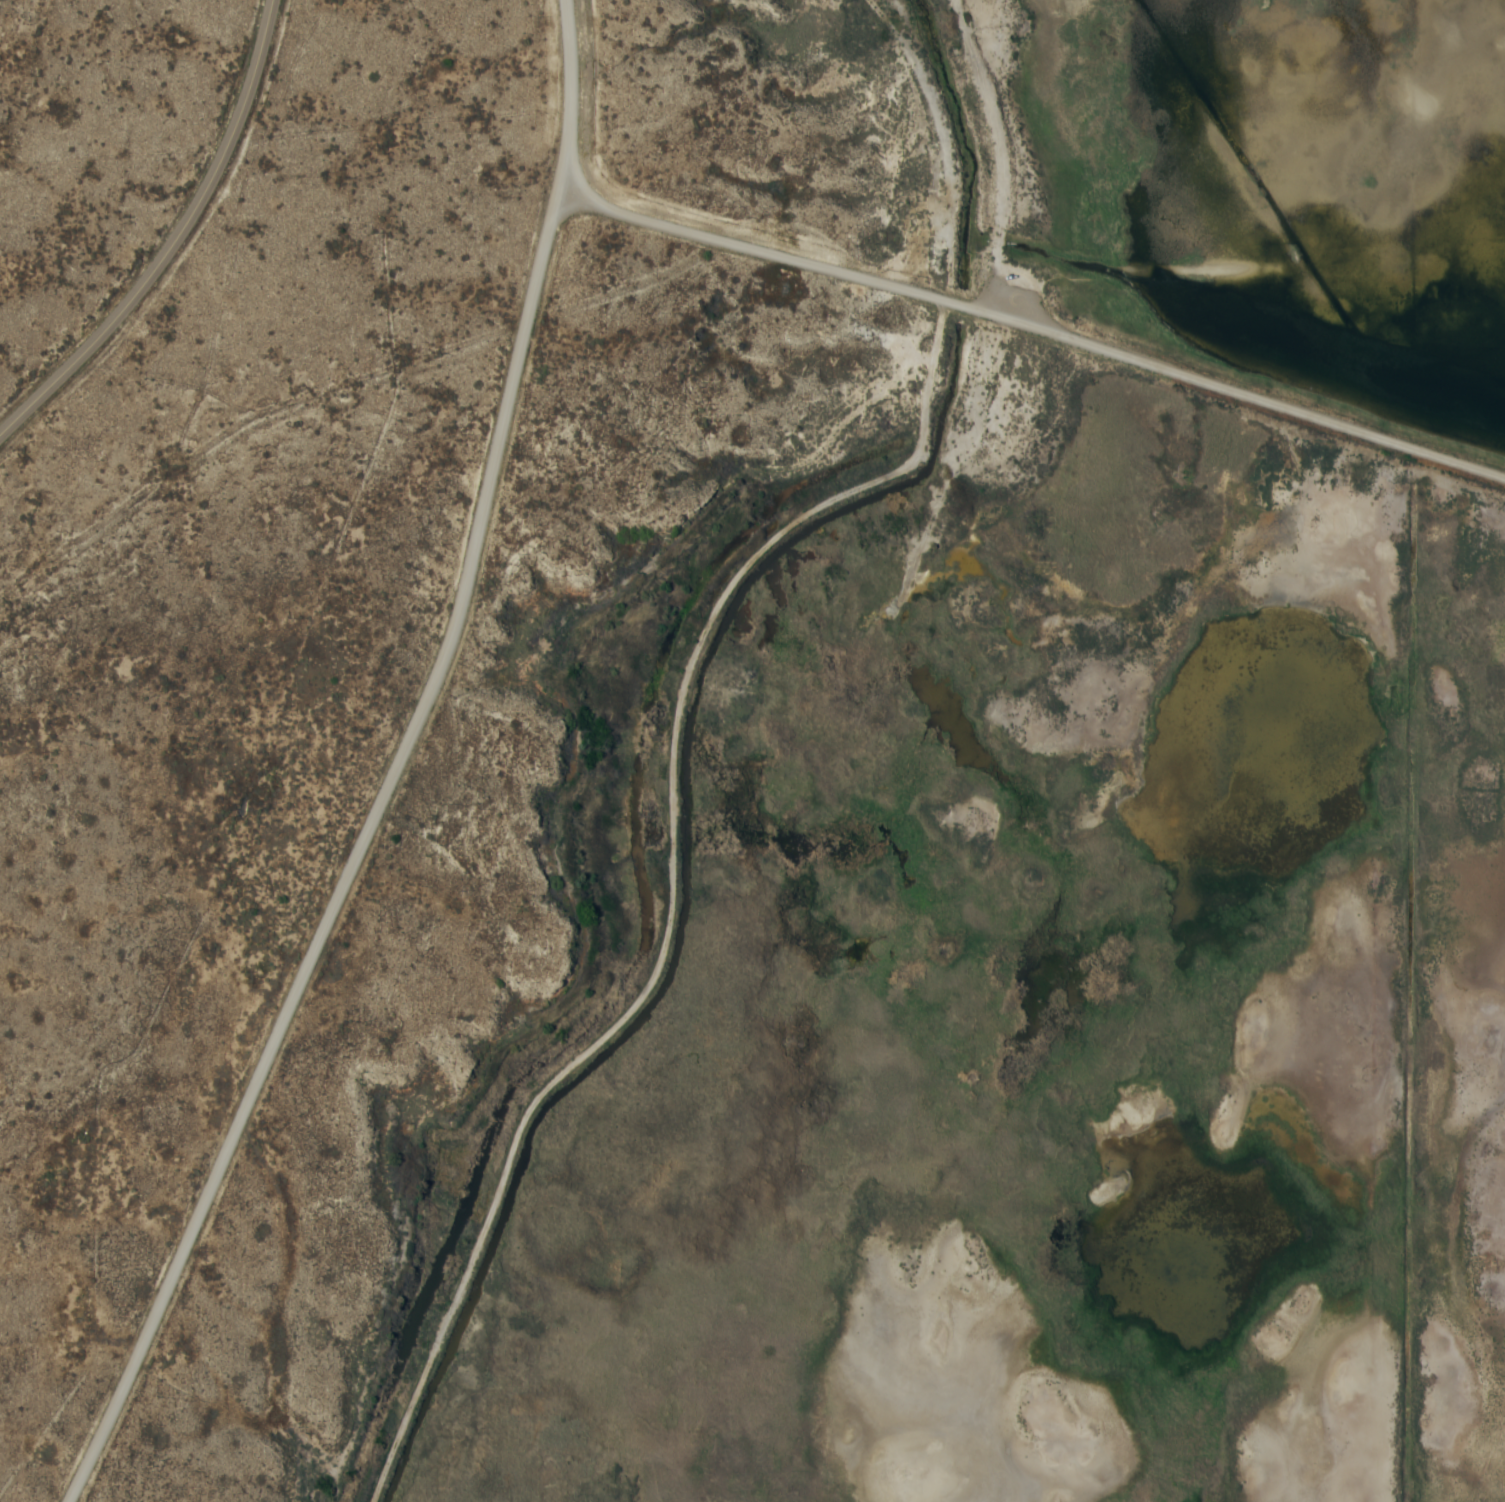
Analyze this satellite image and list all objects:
road: (572, 93)
road: (176, 241)
road: (1032, 327)
road: (358, 858)

